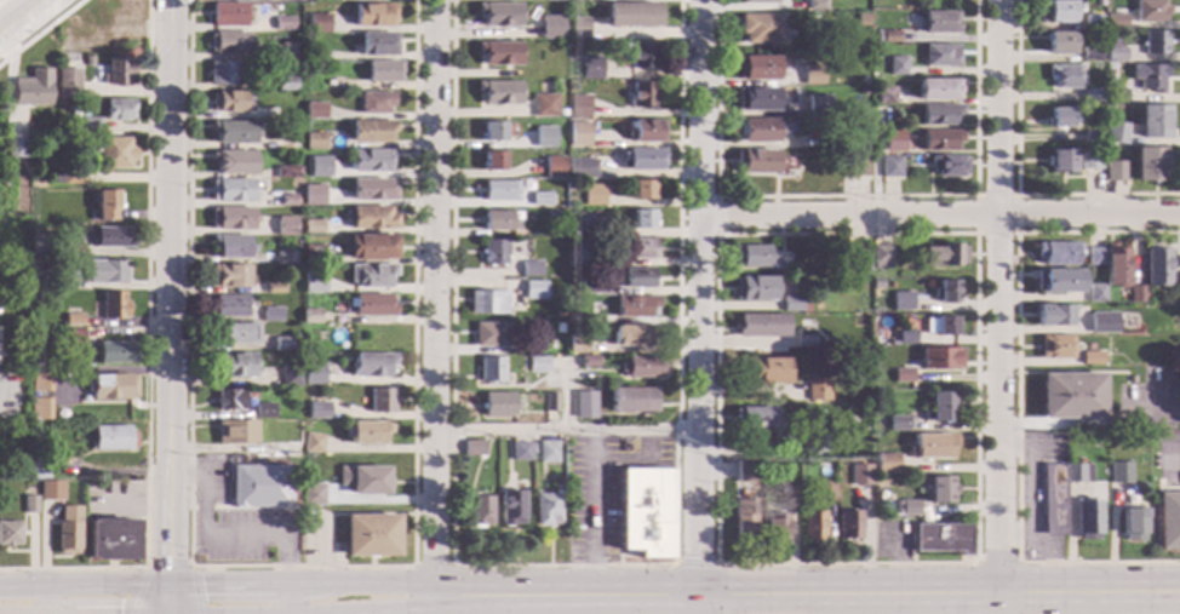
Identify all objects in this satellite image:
building: (550, 0)
building: (758, 1)
building: (815, 5)
building: (133, 7)
building: (1059, 11)
building: (1150, 11)
road: (0, 15)
road: (19, 15)
building: (229, 15)
building: (373, 15)
building: (499, 15)
building: (630, 15)
building: (860, 19)
building: (1090, 21)
building: (1115, 21)
building: (939, 22)
building: (283, 23)
building: (317, 23)
building: (551, 28)
building: (578, 28)
building: (761, 28)
road: (39, 29)
building: (889, 36)
building: (229, 42)
building: (1059, 42)
building: (1155, 42)
building: (378, 45)
building: (287, 52)
building: (499, 53)
building: (1092, 53)
building: (641, 54)
building: (1115, 54)
building: (319, 56)
building: (940, 56)
building: (87, 61)
building: (897, 65)
building: (591, 68)
building: (757, 68)
building: (118, 71)
building: (383, 71)
building: (224, 73)
building: (812, 75)
building: (1062, 76)
building: (1149, 76)
building: (68, 84)
building: (286, 84)
building: (31, 88)
building: (938, 90)
building: (499, 92)
building: (642, 94)
building: (886, 96)
building: (1092, 96)
building: (1115, 96)
building: (757, 98)
building: (231, 102)
building: (376, 102)
building: (544, 105)
building: (579, 105)
building: (818, 105)
building: (119, 110)
building: (315, 110)
building: (74, 111)
building: (286, 114)
building: (940, 114)
building: (894, 115)
building: (1059, 117)
building: (1153, 122)
building: (90, 127)
building: (372, 131)
building: (493, 131)
building: (763, 131)
building: (234, 132)
building: (646, 132)
building: (1115, 132)
building: (579, 133)
building: (545, 137)
building: (831, 138)
building: (1092, 138)
building: (940, 139)
building: (314, 140)
building: (893, 140)
building: (291, 143)
building: (15, 147)
building: (115, 153)
building: (372, 160)
building: (643, 160)
building: (1060, 160)
building: (1089, 160)
building: (494, 161)
building: (755, 161)
building: (234, 162)
building: (1149, 163)
building: (554, 166)
building: (855, 166)
building: (947, 166)
building: (320, 167)
building: (582, 167)
building: (889, 167)
building: (1113, 171)
building: (287, 172)
building: (68, 178)
road: (1015, 180)
building: (233, 190)
building: (372, 190)
building: (643, 190)
building: (500, 191)
building: (594, 195)
building: (309, 196)
road: (1015, 196)
road: (844, 197)
building: (540, 199)
building: (288, 200)
building: (1, 201)
building: (105, 207)
building: (31, 212)
road: (717, 217)
road: (941, 217)
building: (231, 218)
building: (373, 218)
building: (642, 218)
building: (500, 220)
building: (582, 223)
building: (286, 225)
building: (313, 226)
road: (975, 234)
building: (111, 237)
building: (42, 245)
building: (231, 246)
building: (372, 247)
building: (638, 249)
building: (313, 253)
building: (494, 253)
building: (582, 253)
building: (945, 254)
building: (1056, 254)
building: (752, 256)
building: (1094, 256)
building: (880, 257)
building: (283, 258)
building: (857, 262)
building: (30, 265)
building: (1115, 265)
building: (1155, 265)
building: (531, 269)
building: (107, 271)
building: (230, 275)
building: (372, 275)
building: (47, 279)
building: (638, 279)
building: (1056, 281)
building: (313, 282)
building: (877, 285)
building: (592, 287)
building: (787, 287)
building: (2, 288)
building: (274, 288)
building: (755, 289)
building: (534, 291)
building: (945, 292)
building: (1094, 293)
building: (1135, 294)
building: (1176, 294)
building: (901, 300)
road: (997, 300)
road: (167, 302)
road: (703, 302)
building: (488, 303)
building: (113, 305)
building: (372, 305)
building: (635, 305)
building: (794, 305)
building: (230, 306)
road: (435, 306)
building: (1174, 309)
building: (1056, 314)
building: (270, 315)
building: (73, 316)
building: (310, 316)
building: (575, 319)
building: (1094, 325)
building: (761, 326)
building: (945, 326)
building: (237, 333)
building: (489, 334)
building: (632, 334)
building: (71, 338)
building: (905, 338)
building: (806, 340)
building: (282, 344)
building: (578, 344)
building: (1055, 348)
building: (115, 352)
road: (147, 357)
building: (939, 358)
building: (1090, 360)
building: (588, 361)
building: (371, 365)
building: (537, 365)
building: (234, 366)
building: (641, 367)
building: (489, 369)
building: (766, 371)
building: (313, 372)
building: (290, 374)
building: (903, 375)
building: (1129, 379)
building: (39, 380)
building: (110, 388)
building: (815, 390)
building: (38, 395)
road: (566, 395)
building: (1070, 396)
road: (1015, 397)
building: (229, 400)
building: (634, 400)
building: (382, 401)
building: (550, 403)
building: (498, 404)
building: (584, 404)
building: (939, 407)
building: (39, 409)
building: (263, 409)
building: (319, 409)
building: (754, 418)
building: (56, 420)
building: (897, 424)
road: (569, 431)
building: (235, 432)
building: (368, 432)
building: (110, 437)
building: (313, 443)
building: (812, 446)
building: (929, 446)
building: (268, 448)
building: (472, 448)
building: (520, 452)
building: (548, 452)
road: (745, 455)
road: (1172, 459)
road: (634, 460)
building: (886, 464)
building: (38, 469)
building: (17, 471)
building: (745, 471)
building: (1077, 472)
building: (1118, 472)
building: (858, 475)
building: (363, 480)
building: (259, 486)
building: (940, 489)
building: (50, 490)
parking lot: (605, 490)
building: (824, 492)
building: (313, 493)
building: (789, 494)
building: (1053, 500)
building: (28, 505)
building: (511, 507)
building: (546, 509)
building: (907, 509)
building: (480, 510)
building: (646, 512)
road: (1031, 516)
road: (591, 517)
building: (1087, 517)
building: (744, 520)
building: (1168, 520)
building: (1130, 523)
parking lot: (236, 524)
building: (848, 524)
building: (812, 526)
building: (775, 527)
building: (67, 530)
building: (8, 533)
road: (230, 535)
building: (371, 535)
building: (941, 538)
building: (111, 540)
road: (996, 564)
road: (562, 566)
road: (694, 566)
road: (300, 568)
road: (433, 568)
road: (167, 569)
road: (939, 601)
traffic signals: (700, 603)
road: (84, 606)
traffic signals: (168, 606)
road: (434, 606)
road: (1092, 607)
road: (700, 608)
road: (165, 609)
road: (170, 609)
road: (279, 610)
road: (322, 610)

